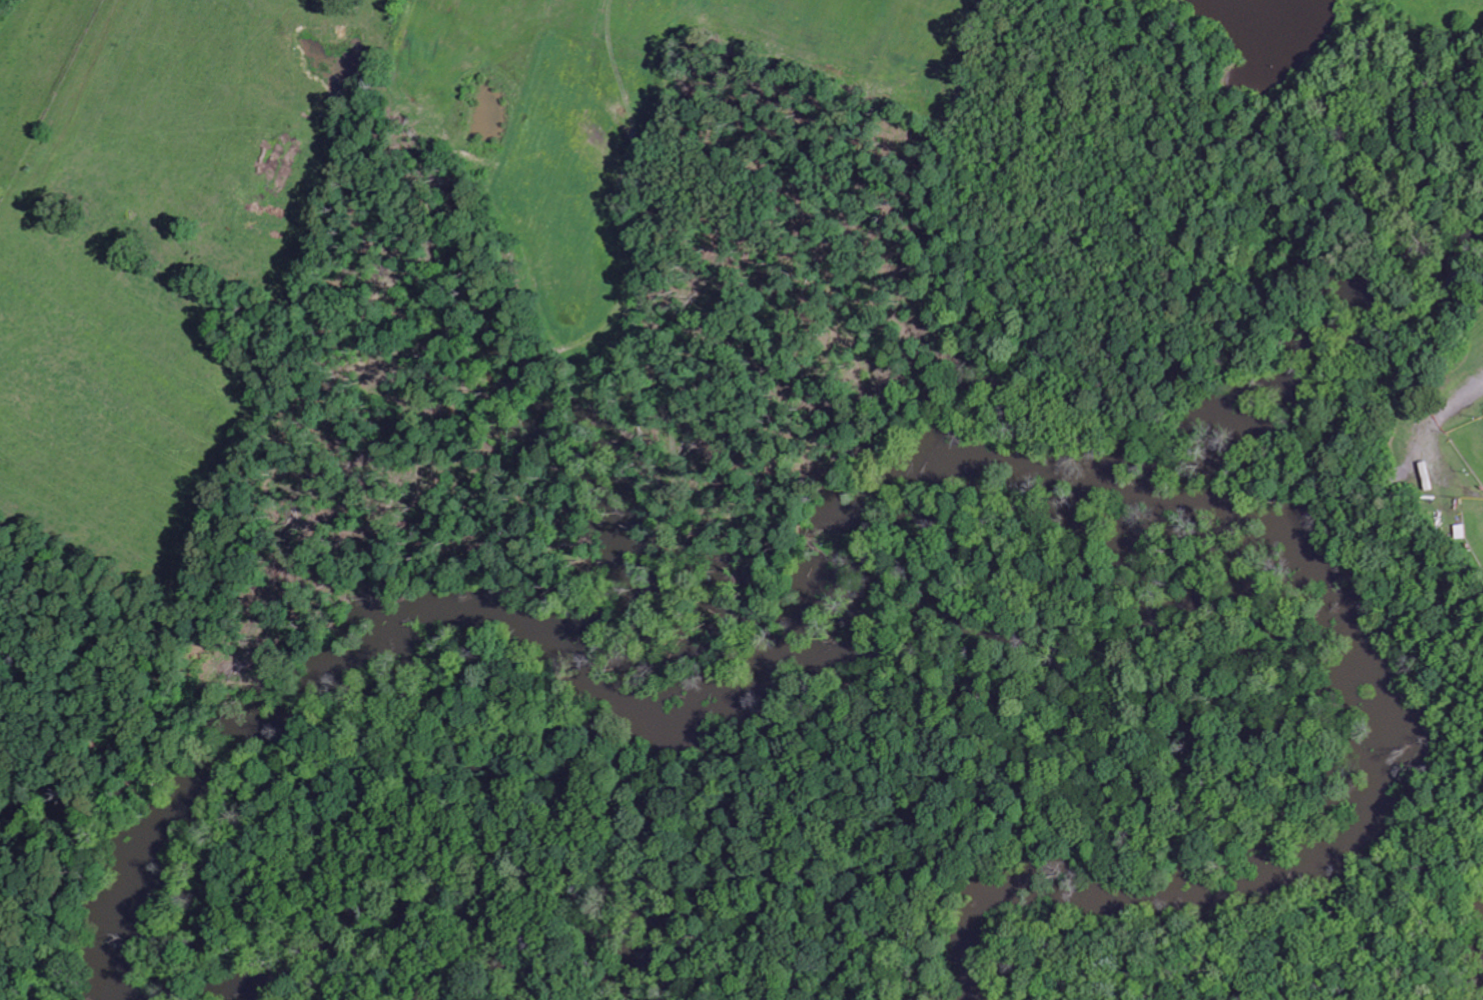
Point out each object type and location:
river: (942, 461)

